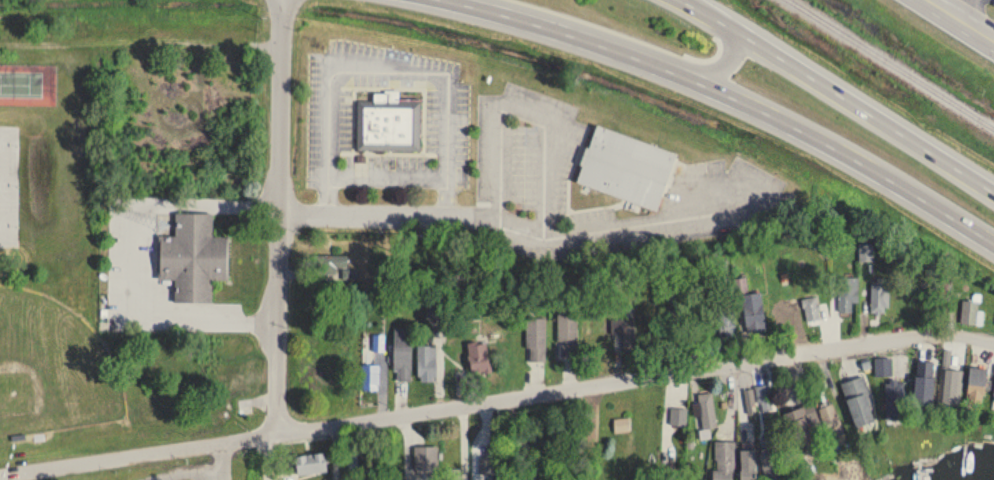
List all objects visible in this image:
road: (688, 2)
road: (690, 2)
road: (966, 9)
road: (962, 19)
road: (633, 42)
railway: (890, 64)
road: (391, 68)
park: (28, 82)
road: (843, 97)
road: (733, 98)
road: (522, 111)
building: (388, 125)
park: (9, 143)
building: (625, 169)
road: (389, 171)
park: (9, 183)
park: (9, 223)
road: (511, 229)
park: (141, 238)
road: (283, 240)
building: (866, 252)
building: (193, 257)
road: (133, 260)
building: (848, 295)
building: (880, 295)
building: (812, 309)
building: (752, 310)
building: (970, 313)
building: (568, 334)
building: (626, 334)
building: (536, 340)
building: (403, 355)
building: (478, 358)
building: (427, 364)
building: (883, 368)
building: (370, 378)
building: (977, 385)
building: (951, 386)
building: (923, 391)
building: (765, 399)
building: (750, 400)
building: (895, 400)
building: (859, 402)
road: (497, 404)
building: (708, 411)
building: (829, 415)
building: (801, 425)
road: (598, 435)
road: (410, 443)
road: (464, 444)
road: (224, 457)
building: (426, 459)
building: (769, 460)
building: (724, 461)
building: (310, 464)
building: (747, 465)
road: (193, 471)
road: (224, 475)
road: (410, 475)
road: (418, 475)
building: (454, 475)

